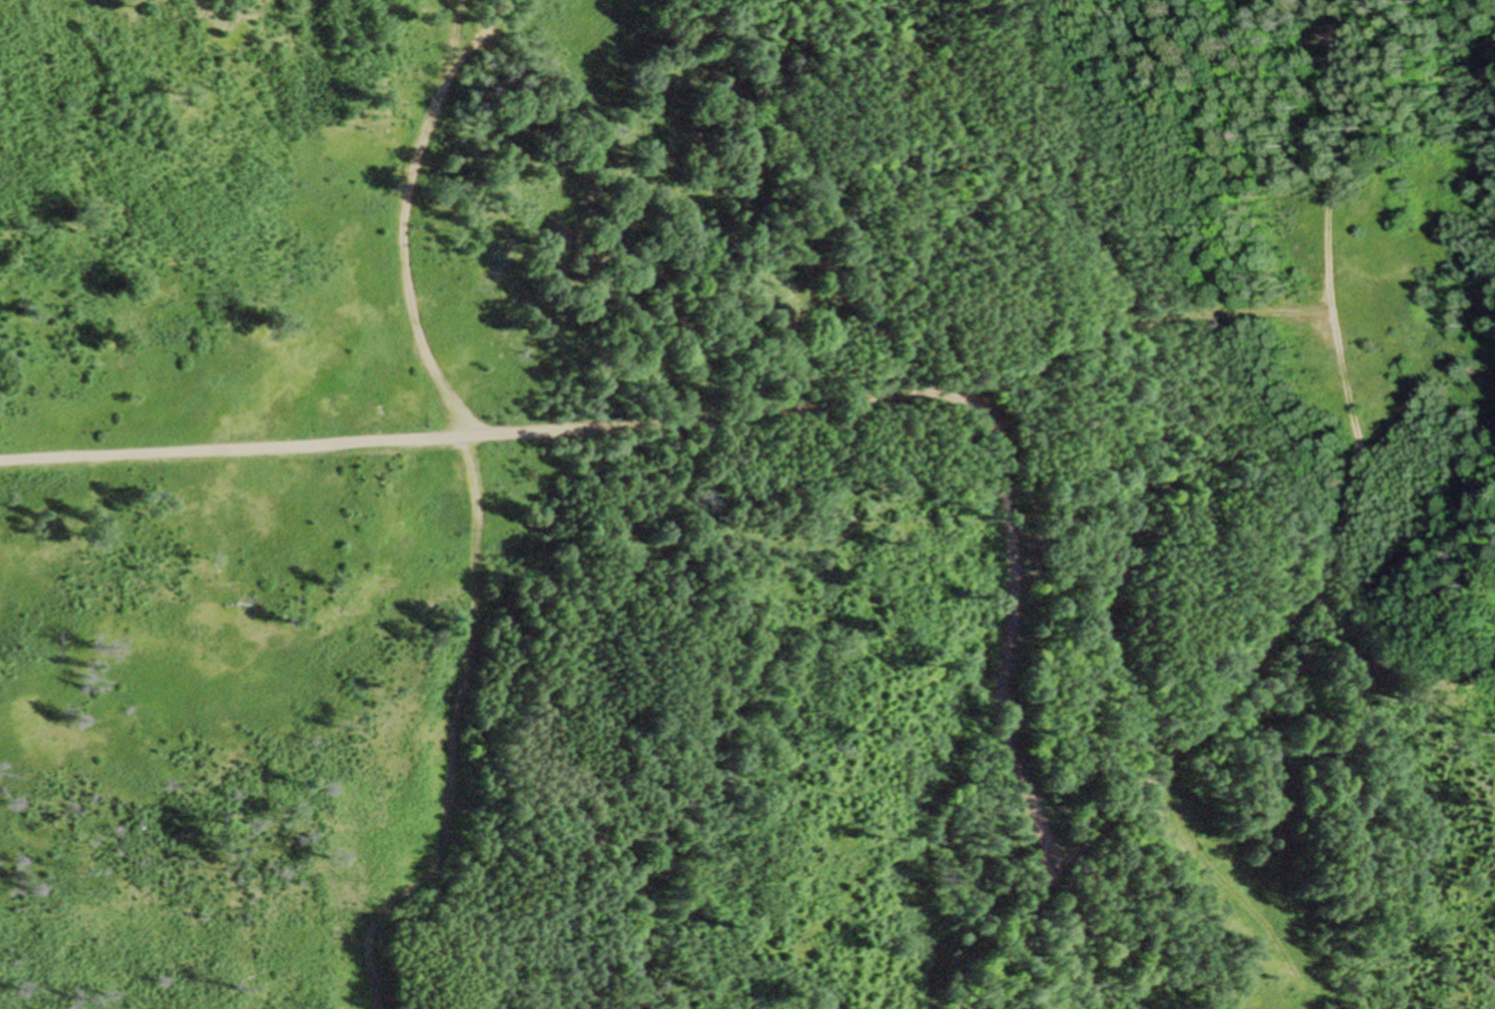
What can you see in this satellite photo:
road: (481, 39)
road: (404, 224)
road: (1143, 320)
road: (484, 436)
road: (1346, 518)
road: (1003, 710)
road: (451, 737)

